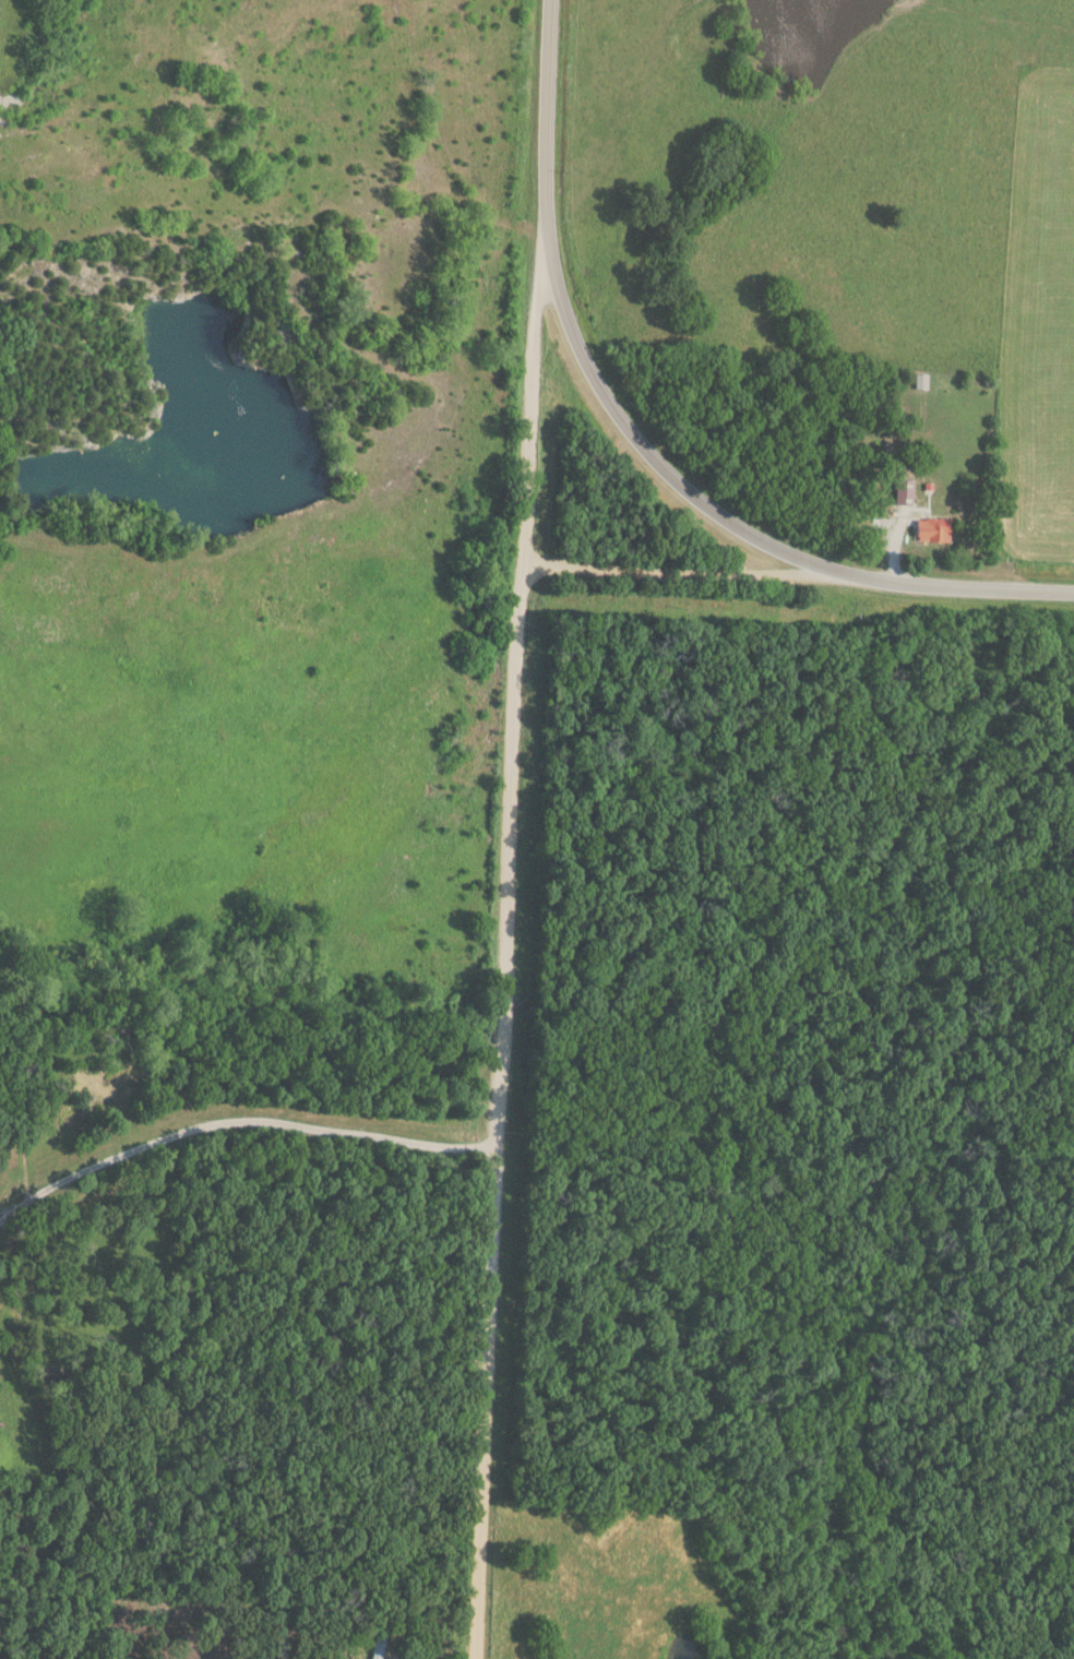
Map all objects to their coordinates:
road: (580, 354)
building: (929, 530)
road: (687, 573)
road: (959, 586)
road: (506, 948)
building: (373, 1647)

